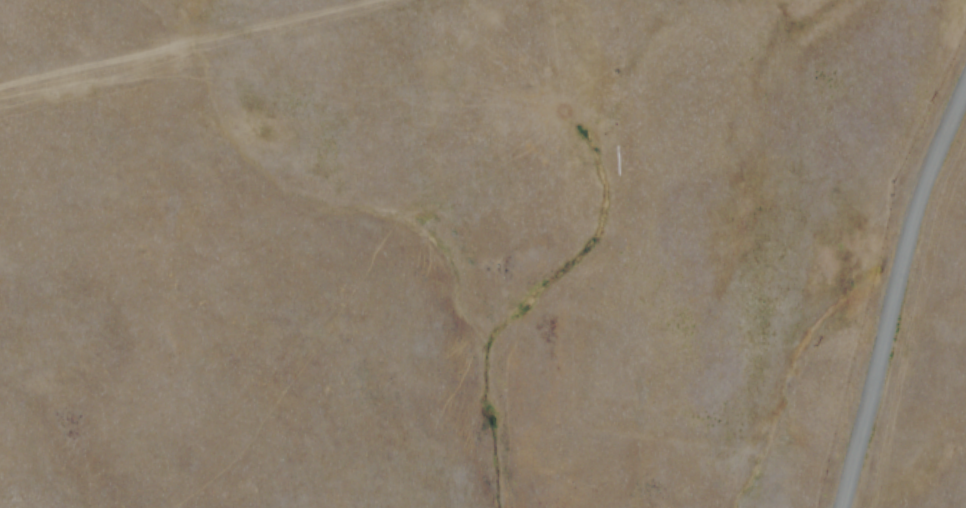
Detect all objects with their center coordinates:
road: (205, 51)
road: (895, 289)

